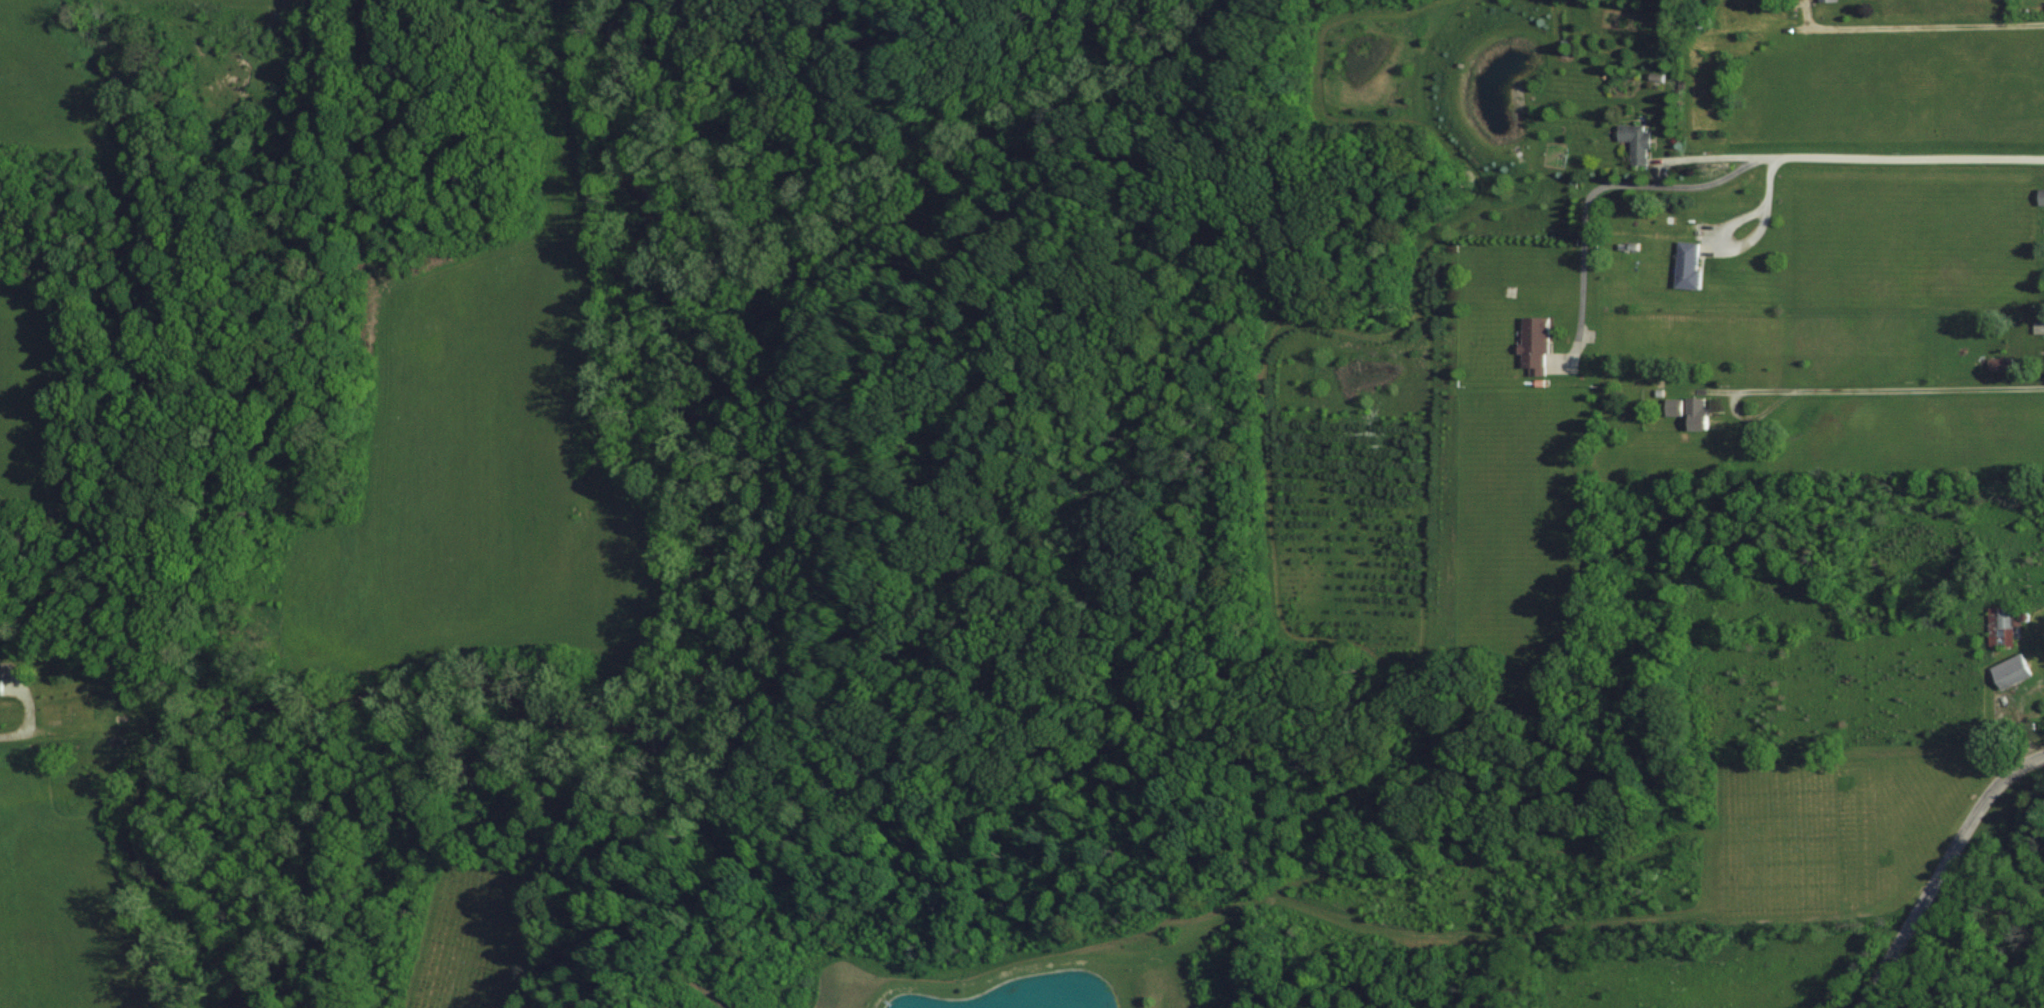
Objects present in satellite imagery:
building: (1830, 0)
road: (1920, 16)
building: (1643, 145)
road: (1709, 146)
road: (1729, 162)
building: (2042, 197)
road: (1748, 234)
building: (1539, 346)
building: (2002, 364)
road: (1919, 379)
road: (1734, 397)
building: (1693, 410)
building: (2002, 626)
building: (2013, 670)
building: (119, 721)
road: (33, 726)
road: (1941, 870)

